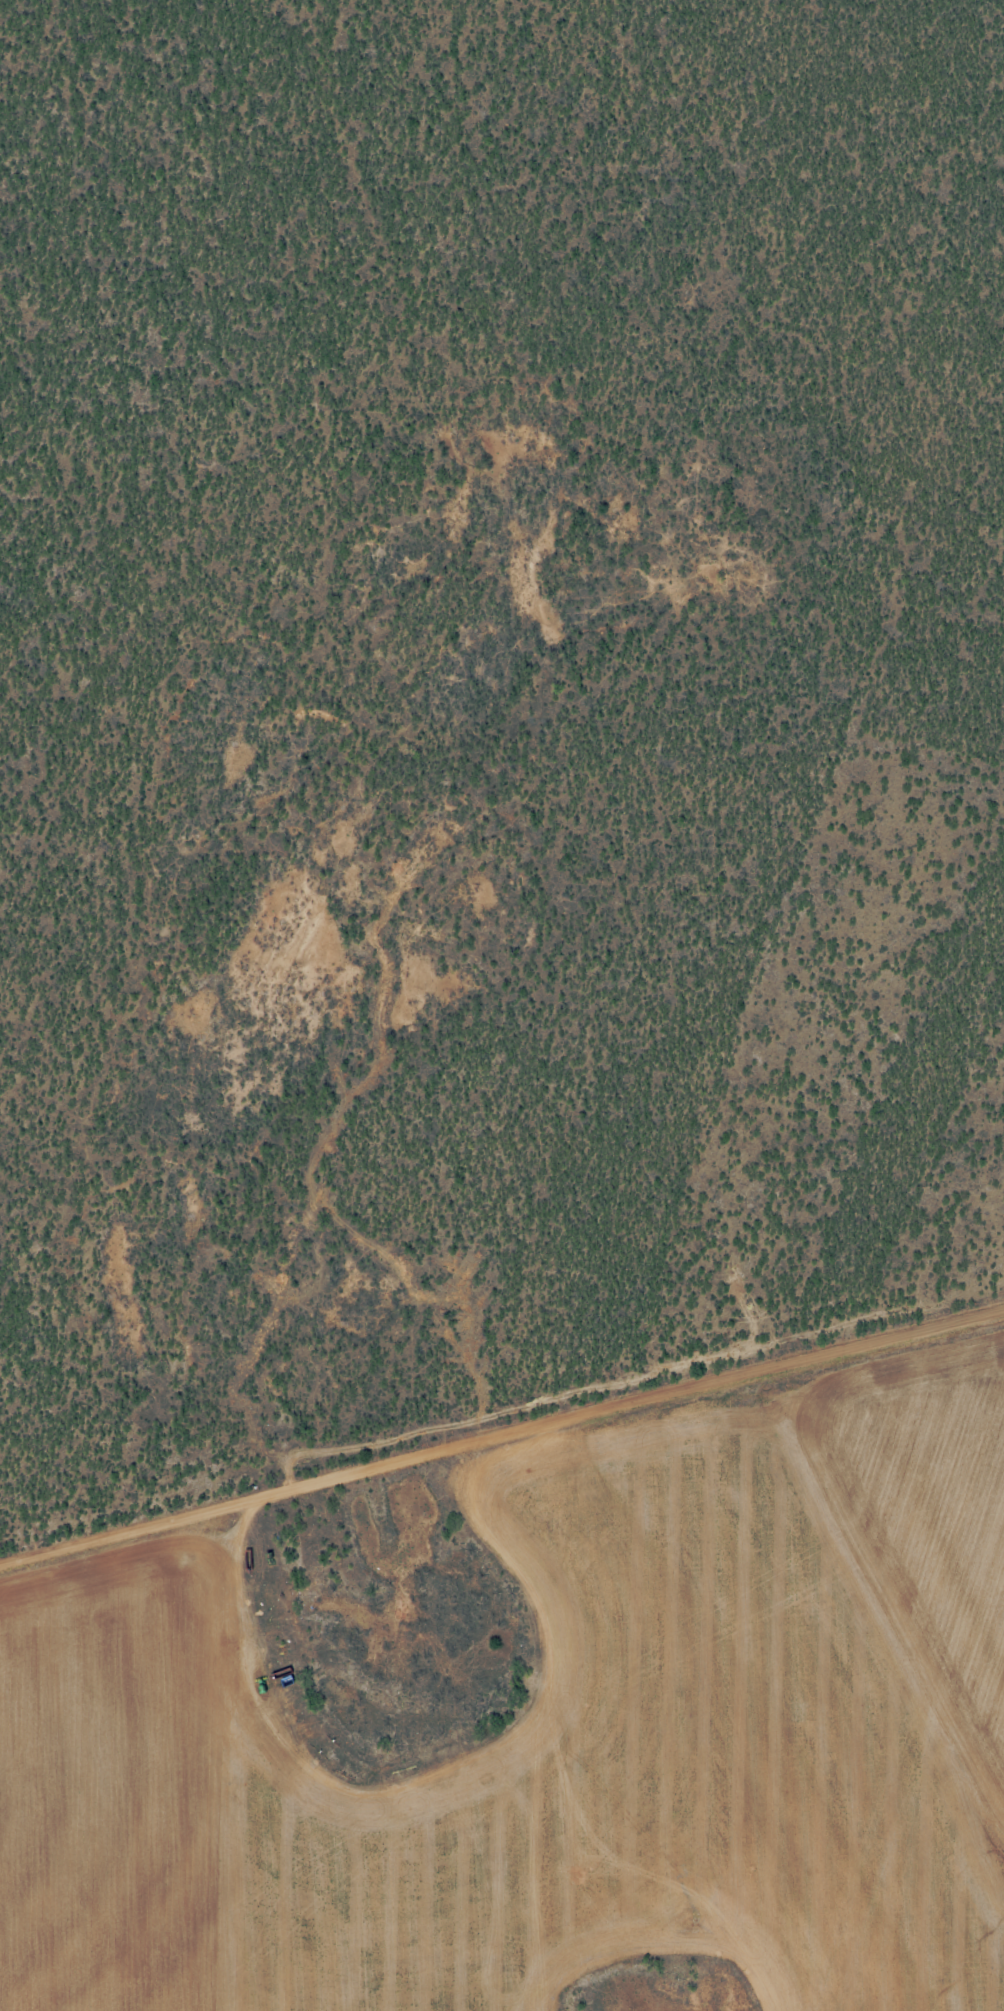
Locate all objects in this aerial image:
road: (502, 1448)

